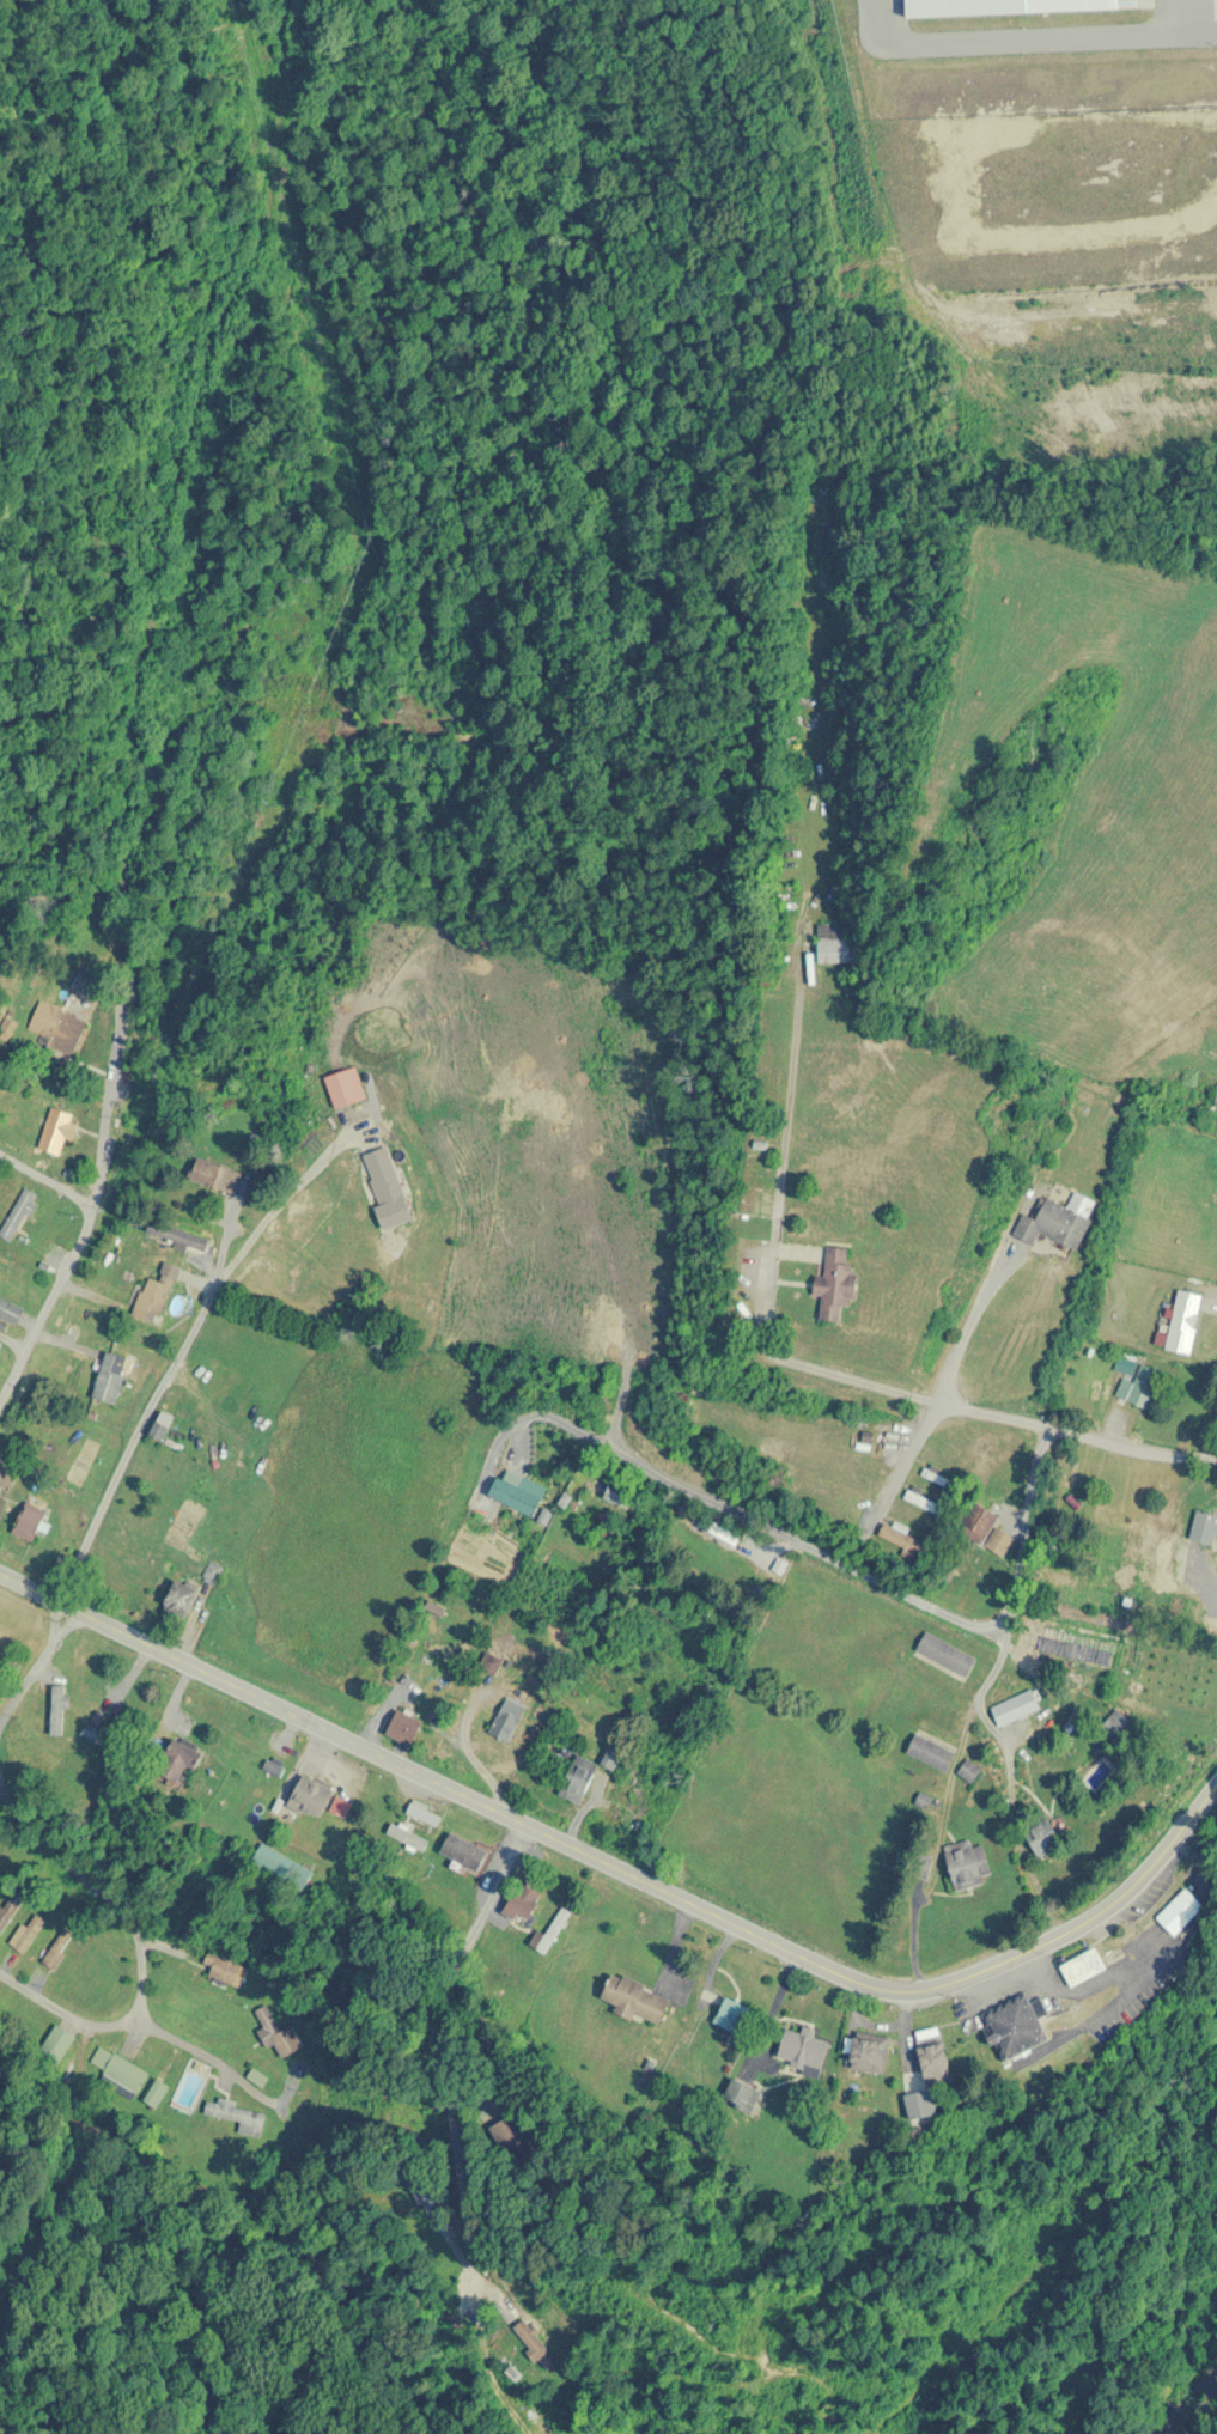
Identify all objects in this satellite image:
building: (999, 7)
building: (835, 942)
building: (89, 985)
building: (60, 1032)
building: (346, 1088)
building: (1216, 1096)
building: (1183, 1105)
building: (57, 1131)
building: (215, 1175)
building: (388, 1187)
building: (18, 1215)
road: (89, 1219)
building: (1054, 1224)
building: (178, 1235)
building: (836, 1284)
building: (156, 1295)
building: (10, 1312)
building: (1182, 1322)
building: (0, 1345)
road: (175, 1361)
road: (817, 1369)
building: (110, 1379)
building: (1145, 1387)
road: (933, 1404)
building: (162, 1426)
building: (7, 1471)
building: (937, 1477)
building: (518, 1493)
building: (617, 1497)
building: (924, 1501)
building: (30, 1517)
building: (979, 1522)
building: (1205, 1526)
building: (719, 1531)
building: (903, 1537)
road: (844, 1564)
building: (181, 1596)
building: (945, 1653)
road: (35, 1665)
building: (1016, 1705)
building: (57, 1706)
building: (509, 1718)
building: (402, 1726)
building: (1116, 1726)
building: (102, 1735)
building: (931, 1751)
building: (609, 1757)
building: (178, 1759)
building: (969, 1770)
building: (578, 1778)
building: (310, 1796)
road: (949, 1800)
building: (341, 1806)
building: (424, 1814)
road: (44, 1834)
building: (1045, 1837)
building: (463, 1854)
building: (968, 1862)
building: (281, 1866)
road: (626, 1872)
building: (522, 1904)
building: (8, 1906)
building: (1181, 1911)
building: (553, 1930)
building: (29, 1933)
building: (56, 1949)
road: (454, 1966)
building: (1084, 1966)
building: (229, 1971)
building: (635, 1997)
building: (731, 2014)
road: (135, 2016)
building: (1016, 2027)
building: (276, 2031)
building: (803, 2049)
building: (870, 2052)
building: (933, 2053)
road: (206, 2056)
building: (117, 2073)
building: (190, 2086)
building: (154, 2091)
building: (237, 2116)
building: (541, 2354)

